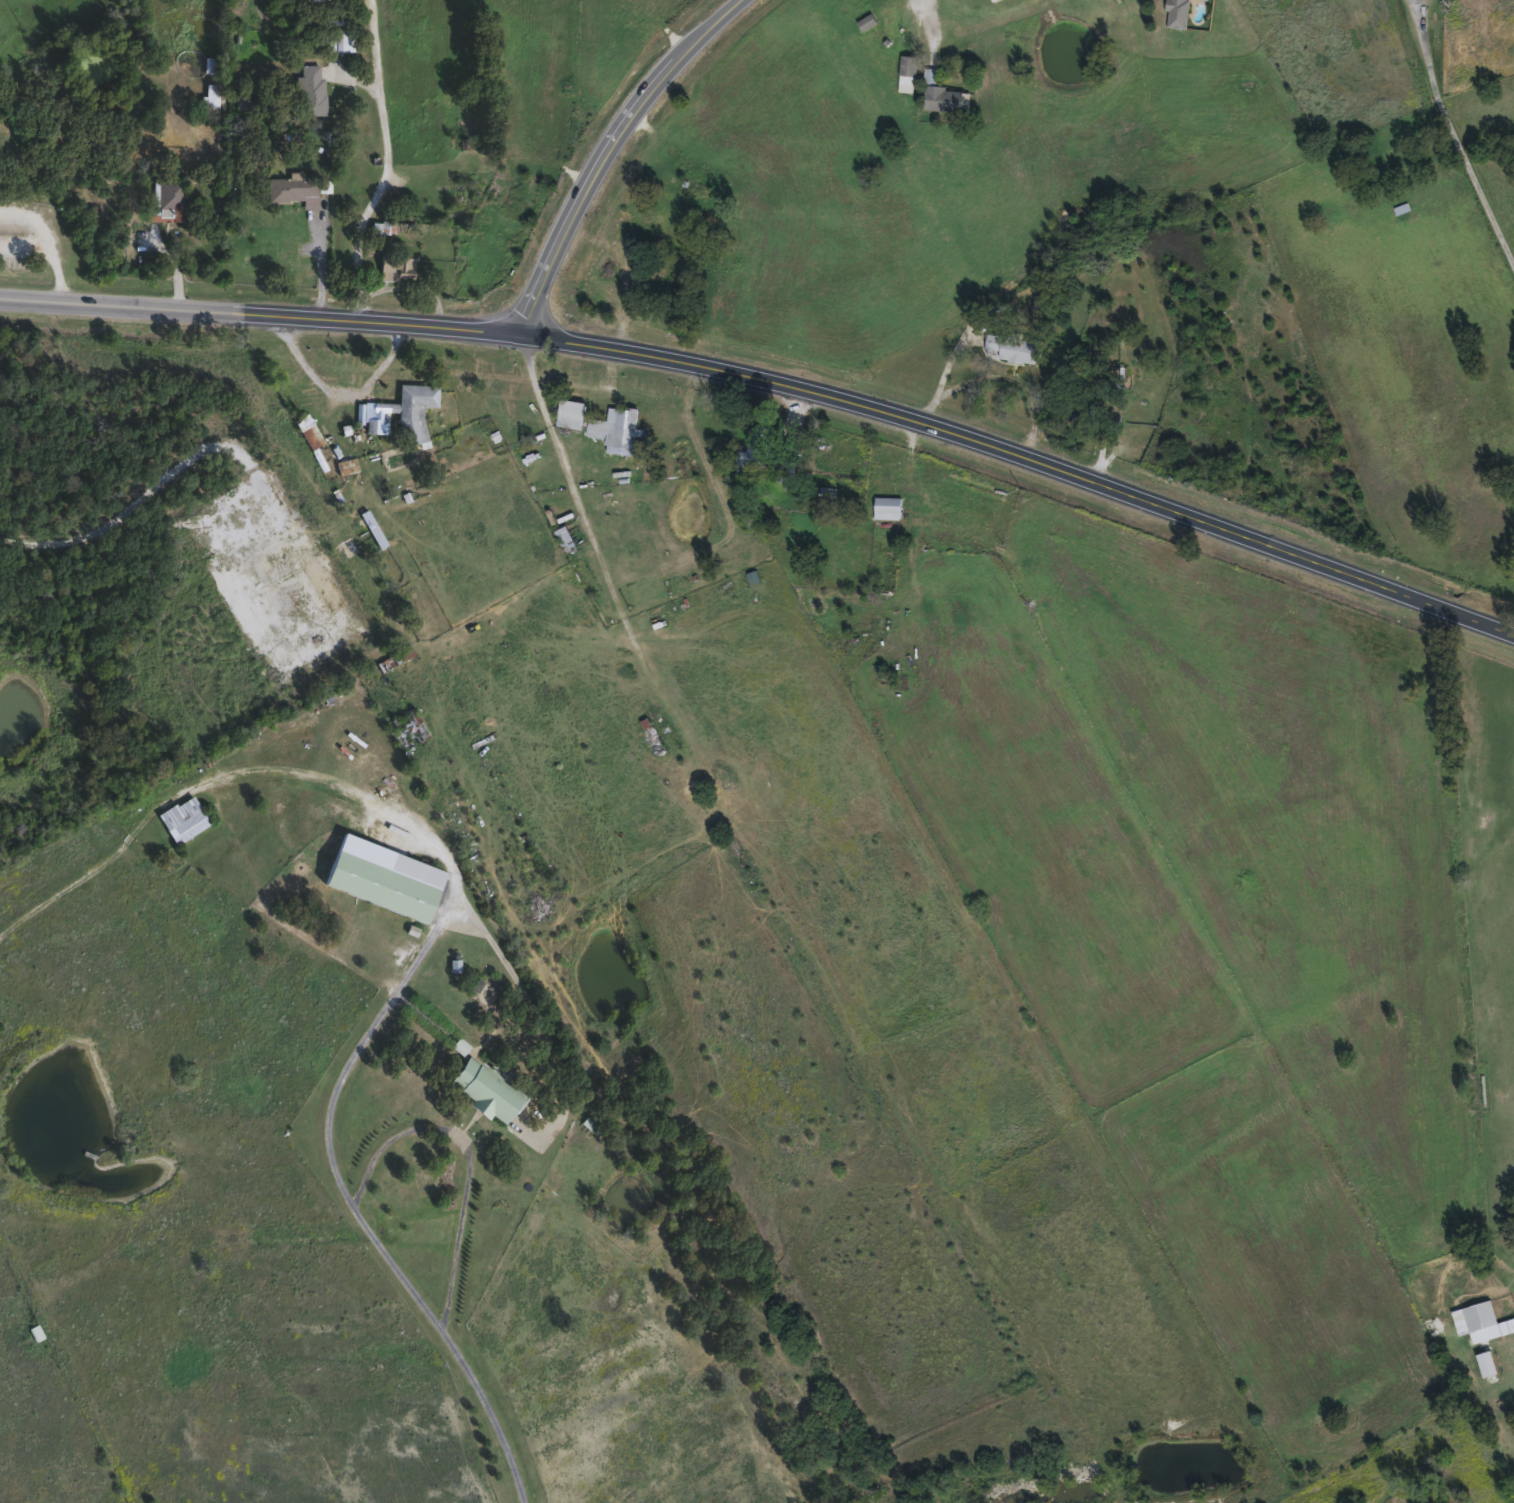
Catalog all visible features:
building: (309, 0)
building: (1177, 12)
building: (867, 20)
road: (932, 20)
building: (339, 38)
building: (209, 62)
building: (907, 72)
building: (310, 88)
building: (209, 95)
building: (942, 96)
building: (241, 100)
road: (1456, 135)
road: (609, 149)
road: (389, 163)
building: (292, 188)
building: (461, 195)
building: (166, 200)
building: (1401, 206)
road: (52, 249)
building: (395, 266)
road: (318, 268)
building: (1013, 347)
road: (944, 372)
road: (1017, 378)
road: (774, 382)
road: (343, 392)
building: (403, 410)
building: (570, 412)
building: (302, 420)
building: (619, 430)
building: (754, 447)
road: (570, 469)
building: (786, 470)
road: (169, 478)
building: (887, 504)
building: (565, 537)
building: (328, 586)
building: (249, 588)
building: (397, 657)
building: (405, 728)
road: (269, 768)
building: (182, 818)
park: (2, 865)
building: (383, 877)
road: (538, 1023)
building: (485, 1090)
road: (470, 1156)
road: (382, 1250)
building: (1480, 1321)
building: (35, 1332)

